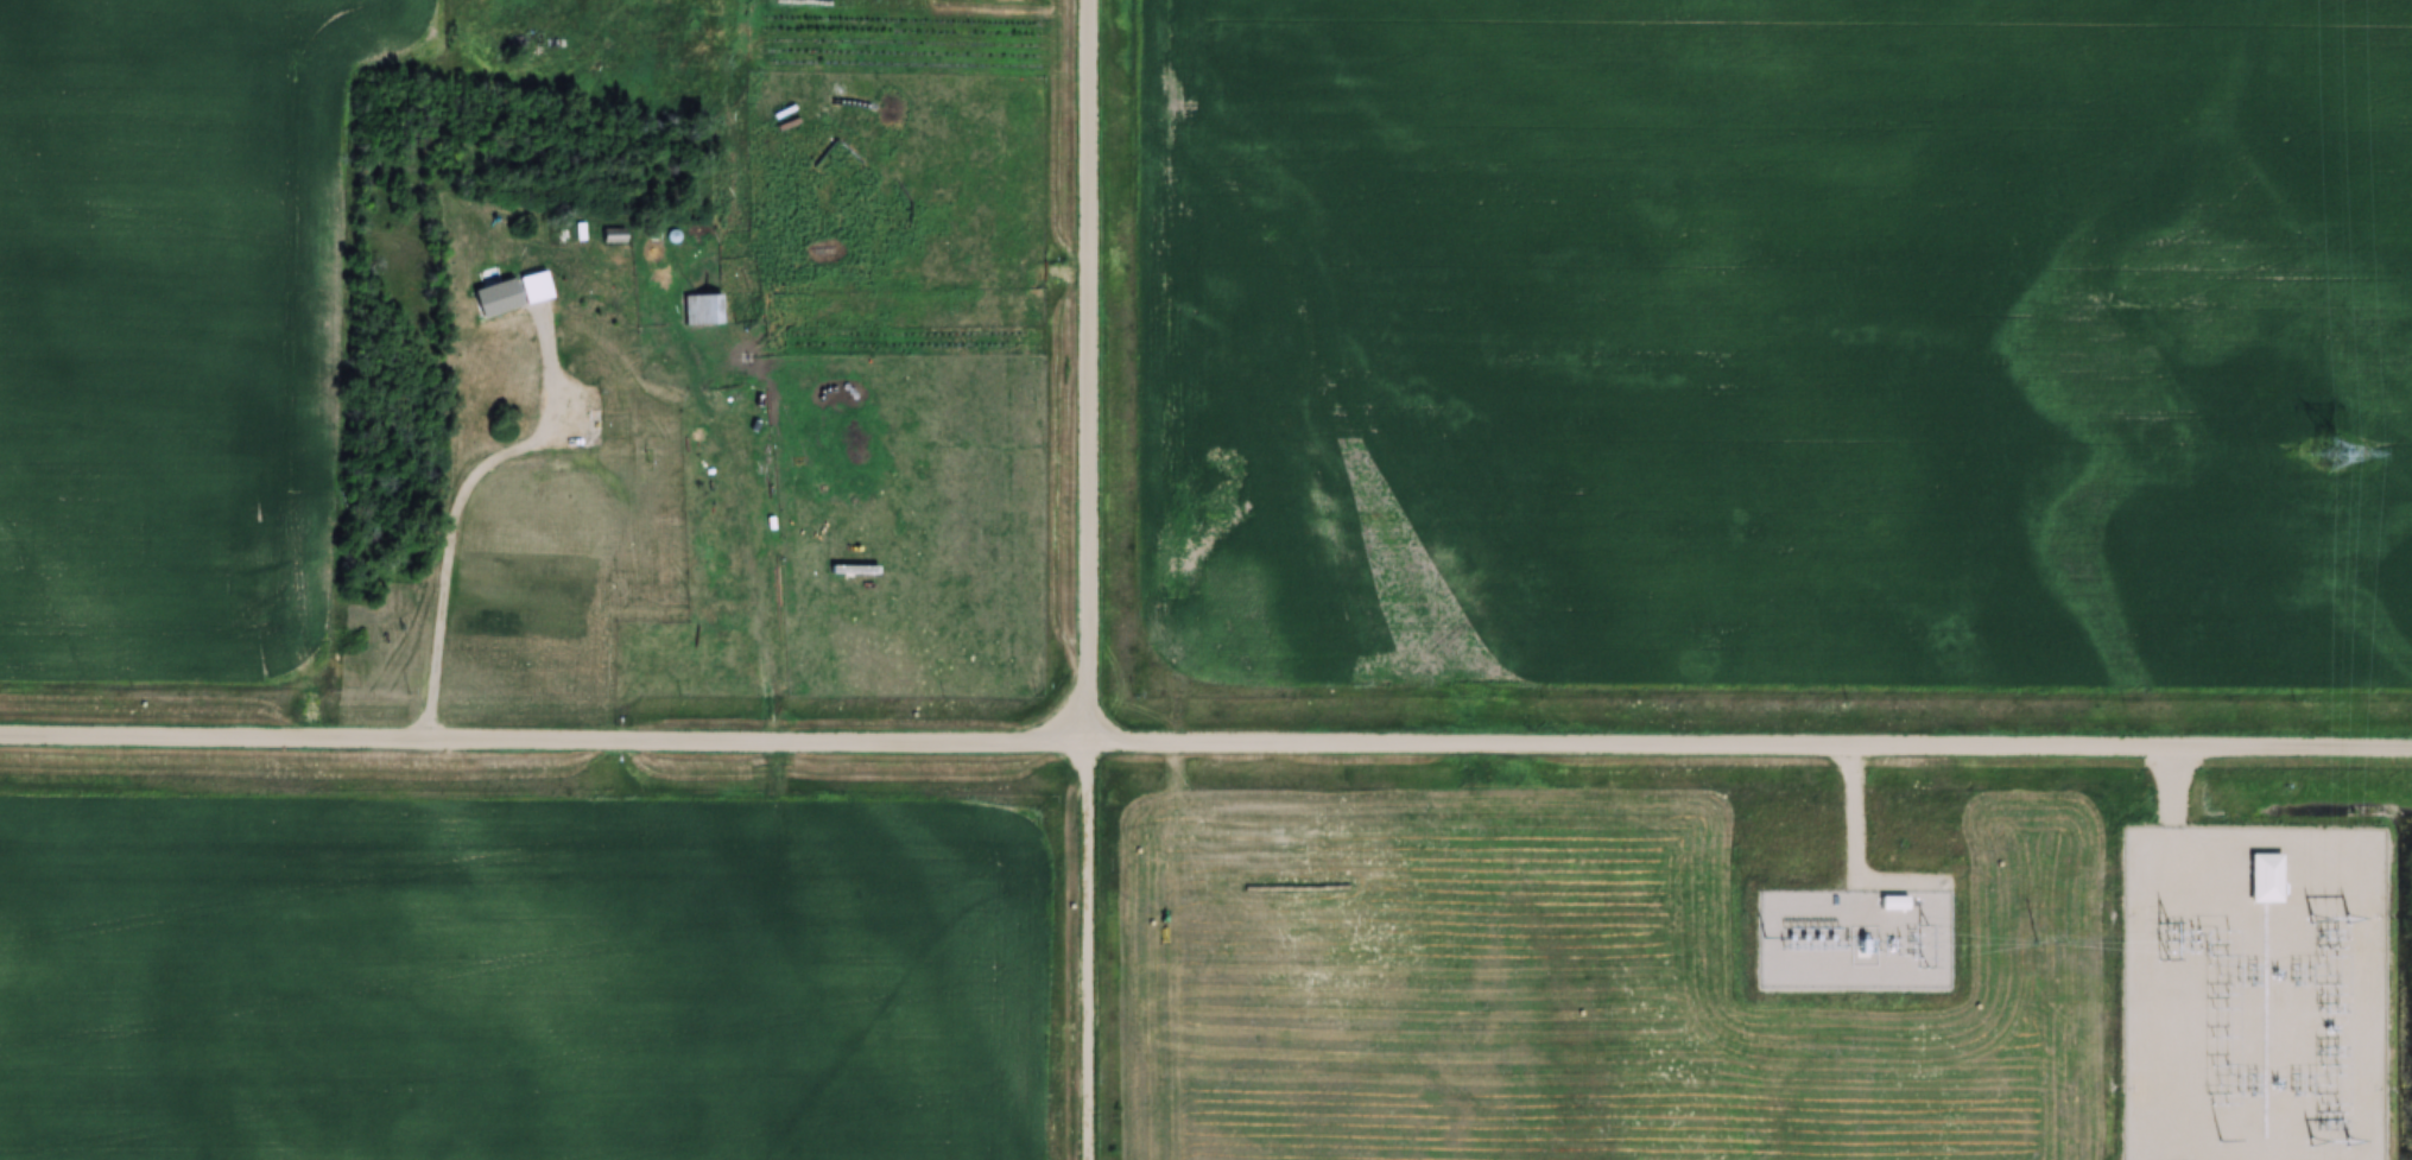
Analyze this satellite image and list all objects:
building: (487, 283)
building: (701, 310)
building: (532, 387)
building: (572, 425)
power tower: (2328, 452)
road: (1090, 579)
road: (1205, 741)

